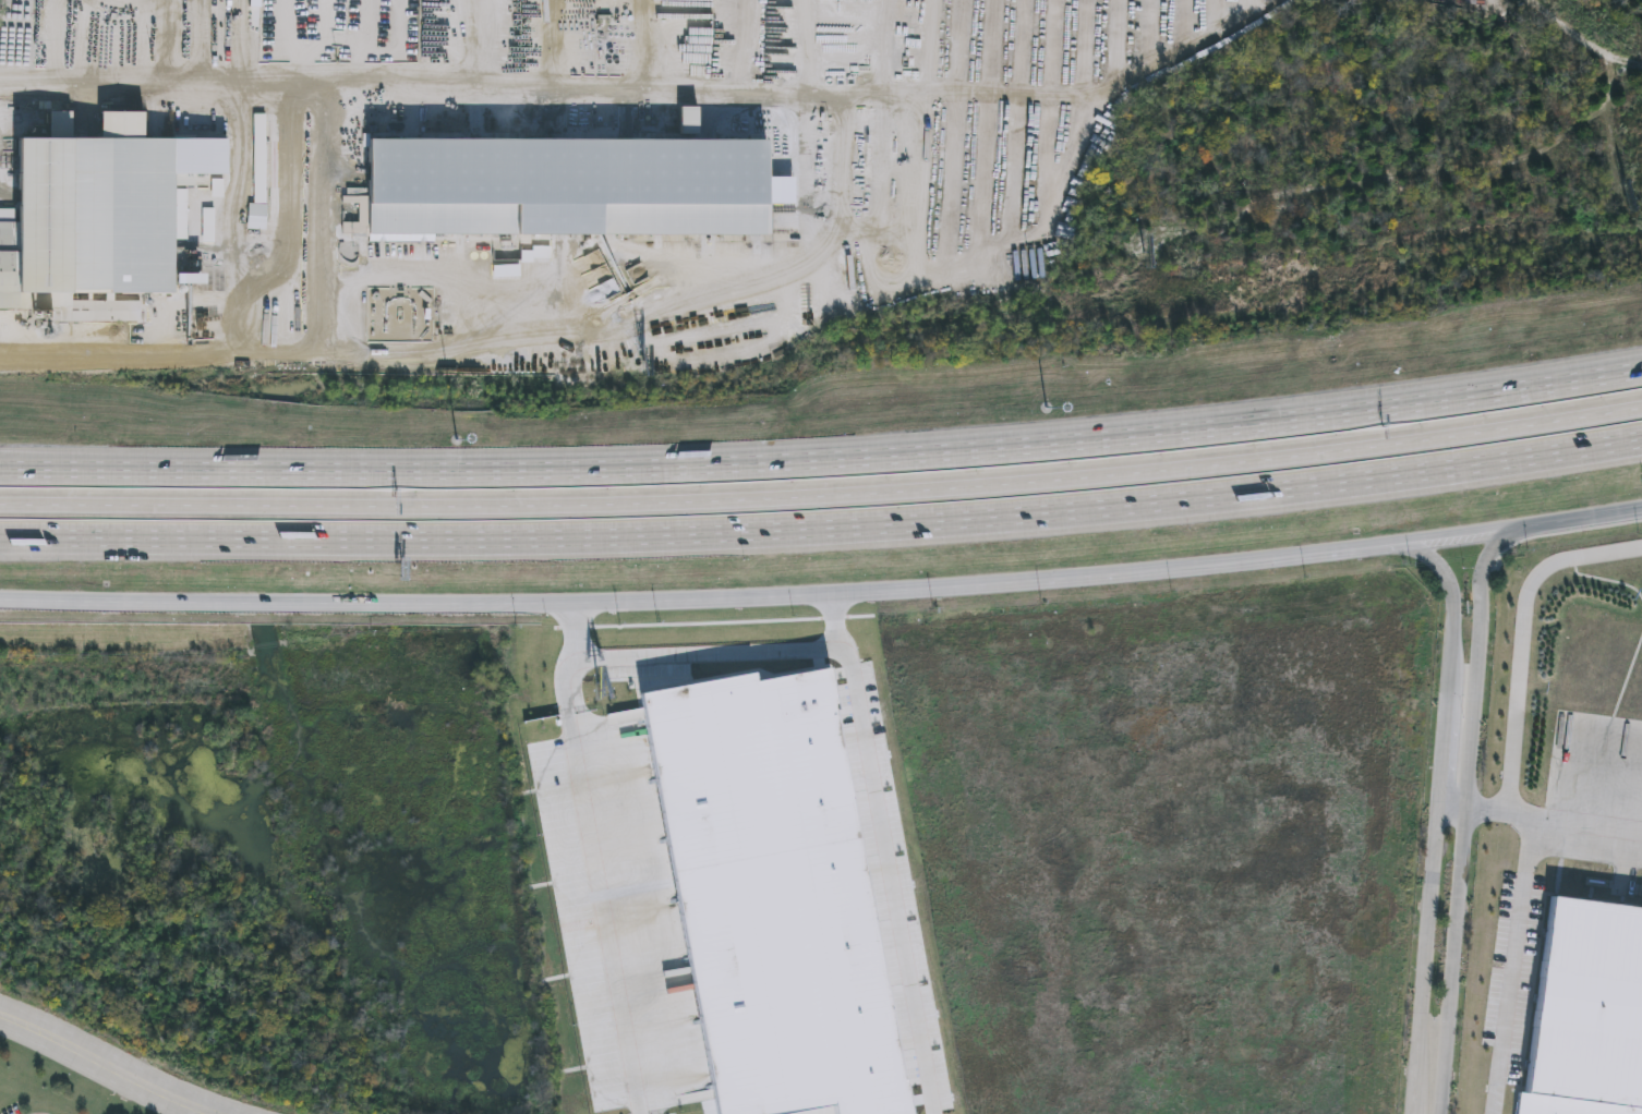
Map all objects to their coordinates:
building: (903, 9)
building: (883, 27)
building: (885, 64)
road: (231, 83)
building: (563, 190)
building: (96, 219)
road: (823, 461)
road: (823, 496)
building: (701, 516)
road: (1575, 523)
road: (823, 529)
road: (1452, 541)
road: (1252, 566)
road: (553, 603)
road: (1524, 639)
road: (708, 656)
road: (1438, 814)
road: (1554, 818)
road: (1465, 820)
road: (886, 853)
road: (601, 858)
road: (1512, 964)
building: (1587, 1013)
road: (105, 1064)

